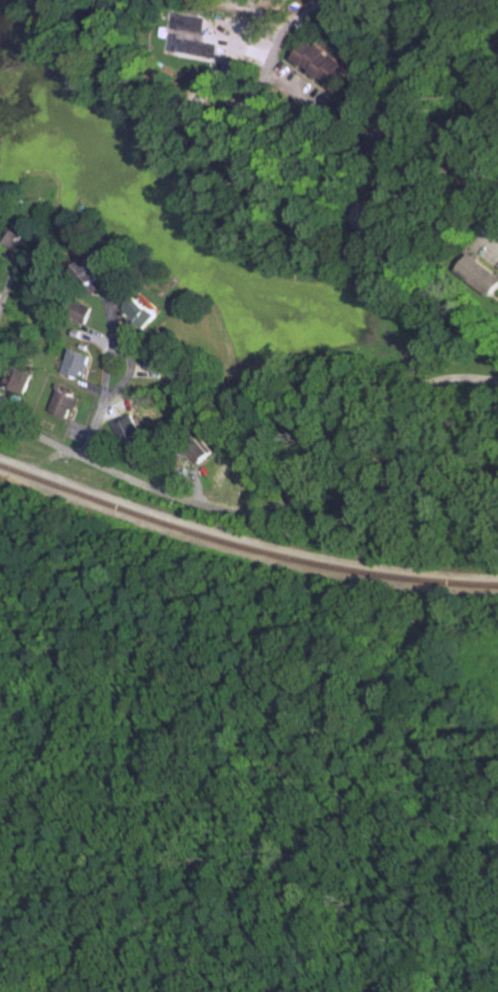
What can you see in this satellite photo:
building: (461, 2)
road: (232, 41)
building: (200, 48)
road: (280, 49)
building: (327, 63)
building: (238, 68)
road: (217, 91)
road: (323, 114)
building: (209, 122)
road: (234, 128)
building: (413, 138)
road: (247, 146)
building: (478, 162)
road: (364, 176)
building: (264, 182)
road: (481, 183)
building: (397, 187)
road: (312, 200)
road: (319, 210)
building: (311, 224)
road: (487, 229)
building: (20, 233)
road: (369, 234)
parking lot: (490, 247)
road: (17, 253)
building: (1, 269)
building: (122, 271)
building: (482, 273)
building: (93, 275)
road: (14, 276)
road: (0, 280)
building: (134, 281)
road: (497, 295)
road: (1, 299)
building: (83, 310)
building: (147, 312)
road: (120, 321)
building: (79, 333)
road: (103, 341)
building: (85, 346)
building: (14, 349)
building: (169, 352)
road: (93, 357)
building: (76, 363)
building: (181, 365)
road: (110, 366)
road: (162, 373)
road: (87, 374)
building: (16, 377)
road: (92, 386)
building: (60, 400)
road: (113, 406)
road: (73, 417)
building: (127, 431)
road: (78, 433)
building: (198, 449)
road: (190, 474)
road: (263, 513)
railway: (243, 546)

